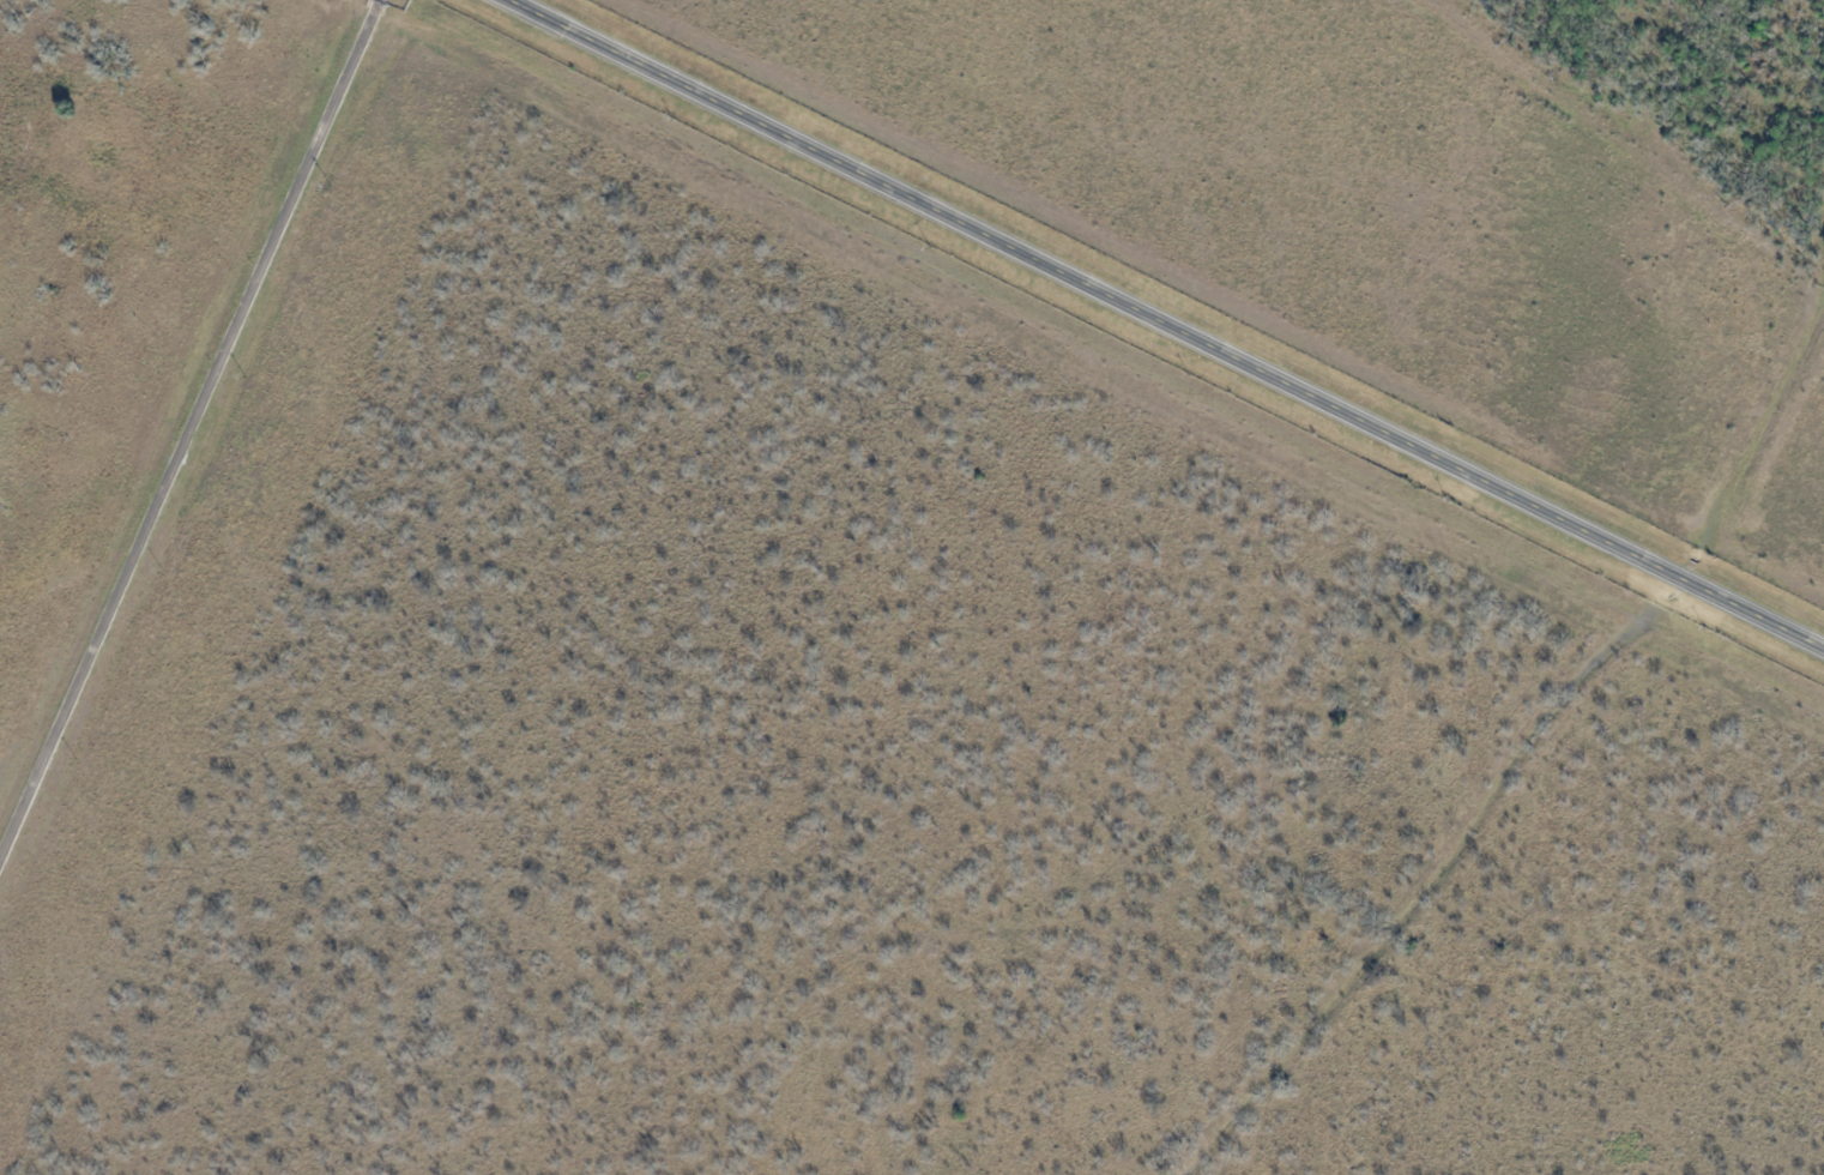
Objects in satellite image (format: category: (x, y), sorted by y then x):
road: (1168, 323)
road: (188, 424)

